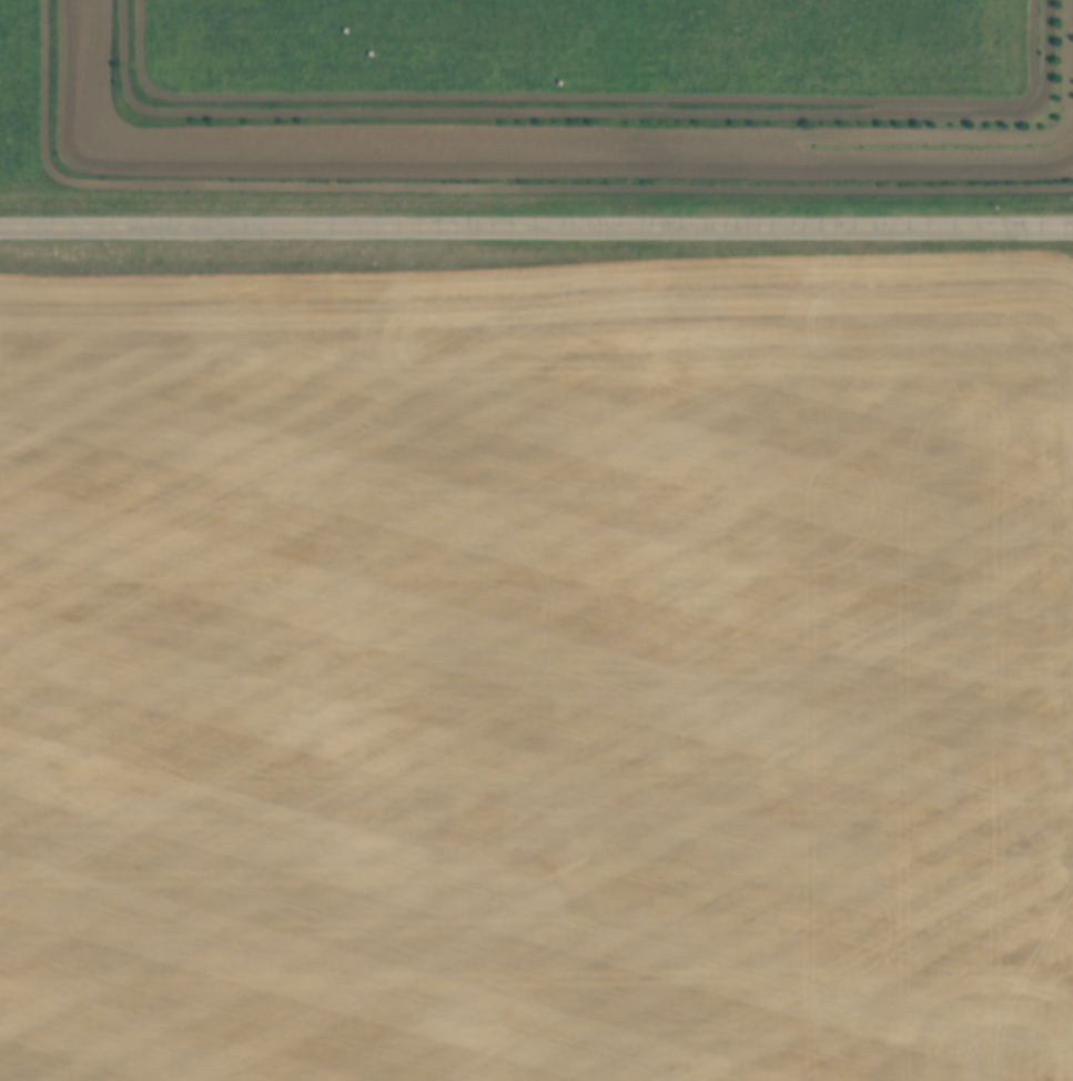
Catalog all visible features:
road: (536, 230)

